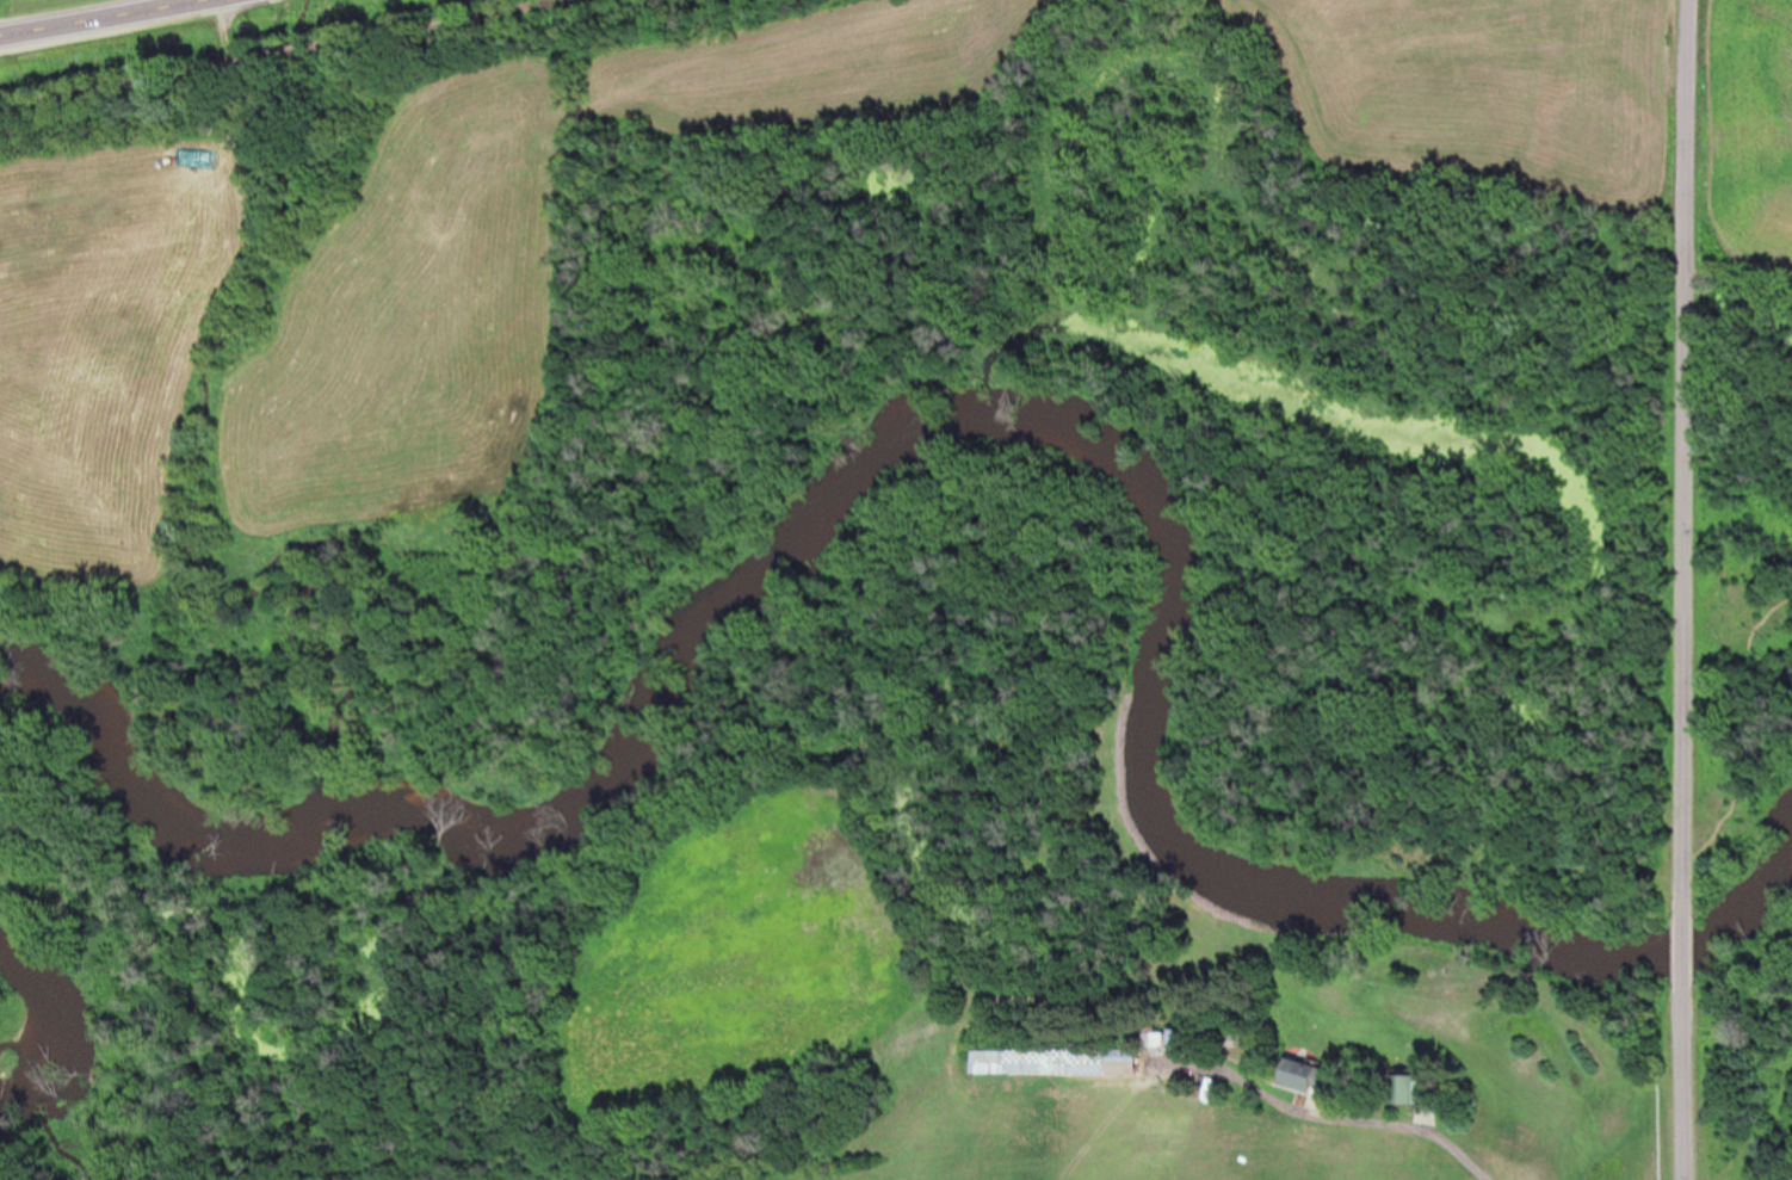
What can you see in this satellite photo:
road: (105, 17)
road: (458, 21)
road: (309, 50)
road: (135, 81)
road: (1691, 589)
river: (754, 591)
river: (144, 747)
river: (1388, 912)
river: (37, 915)
river: (45, 974)
river: (16, 1000)
building: (976, 1062)
building: (1283, 1079)
building: (1398, 1088)

